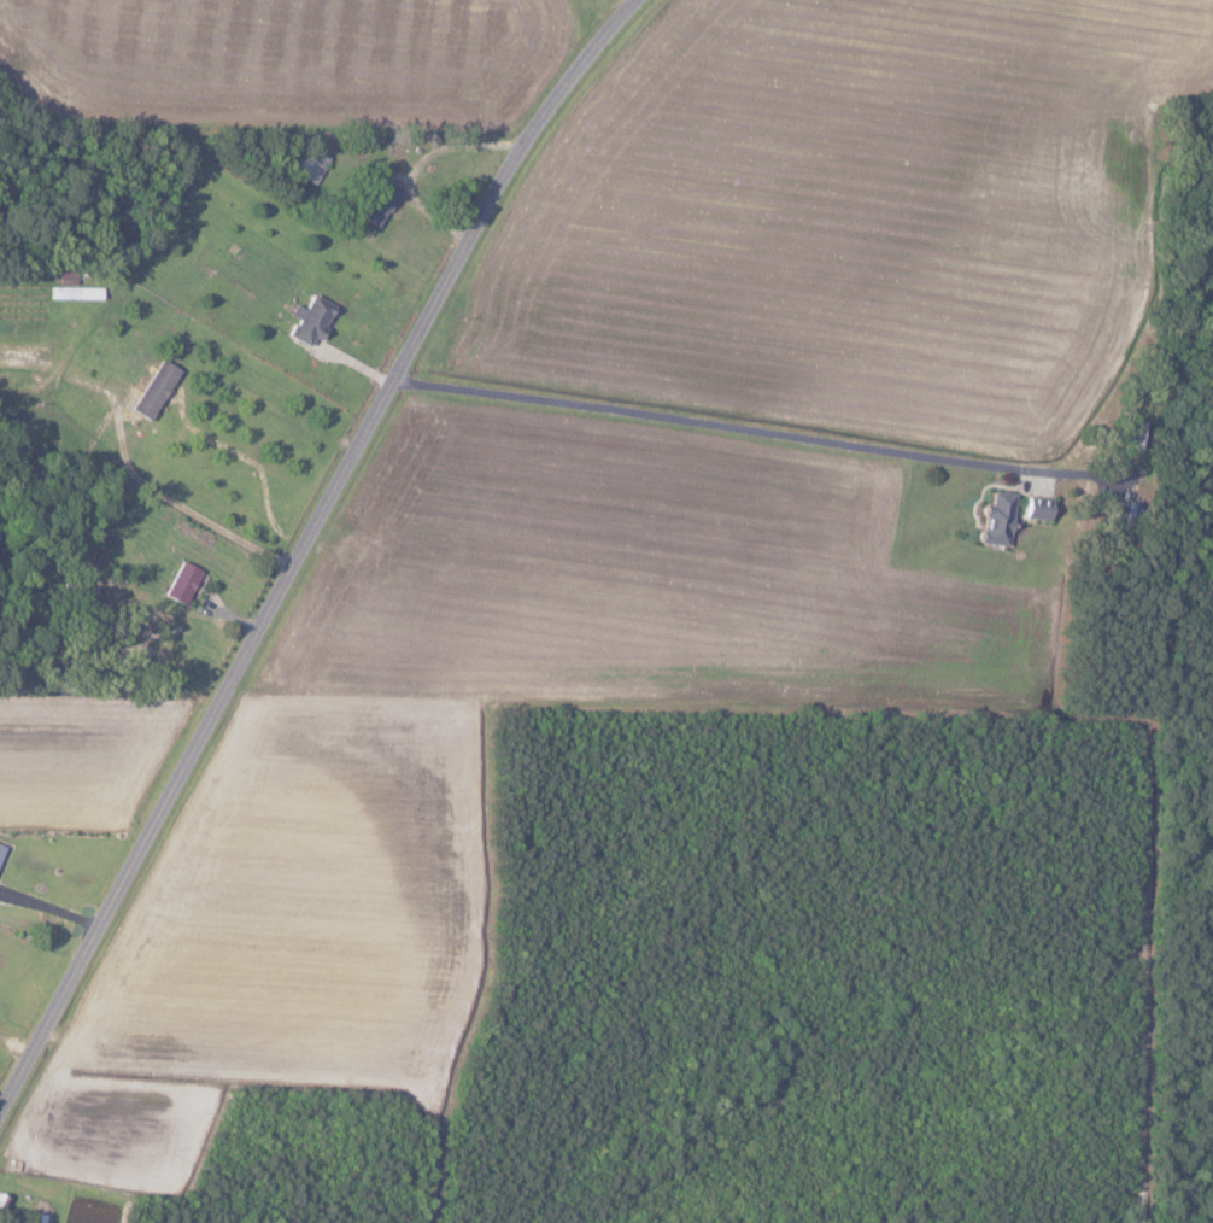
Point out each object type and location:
building: (313, 166)
building: (379, 204)
building: (309, 320)
road: (729, 421)
road: (147, 422)
building: (1037, 509)
building: (997, 519)
road: (304, 554)
building: (182, 583)
building: (1, 849)
building: (37, 1217)

